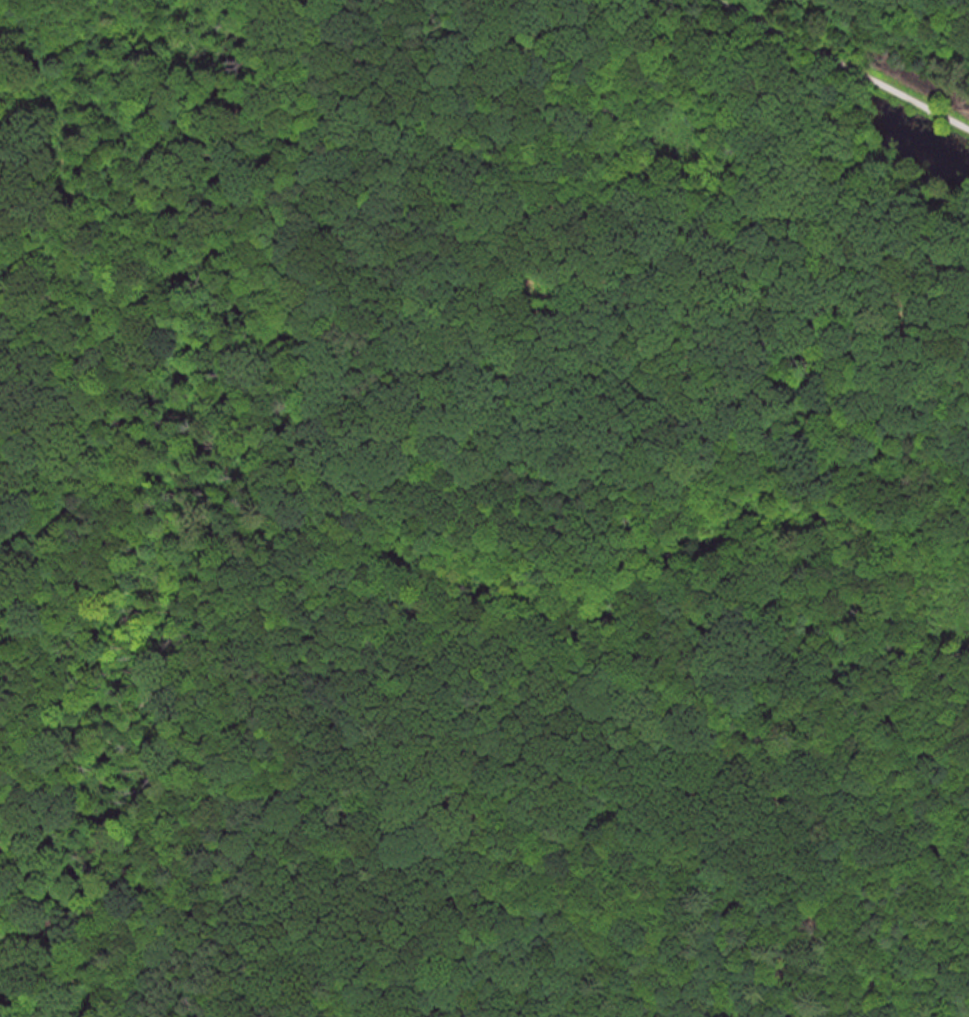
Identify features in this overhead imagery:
road: (844, 63)
park: (484, 508)

